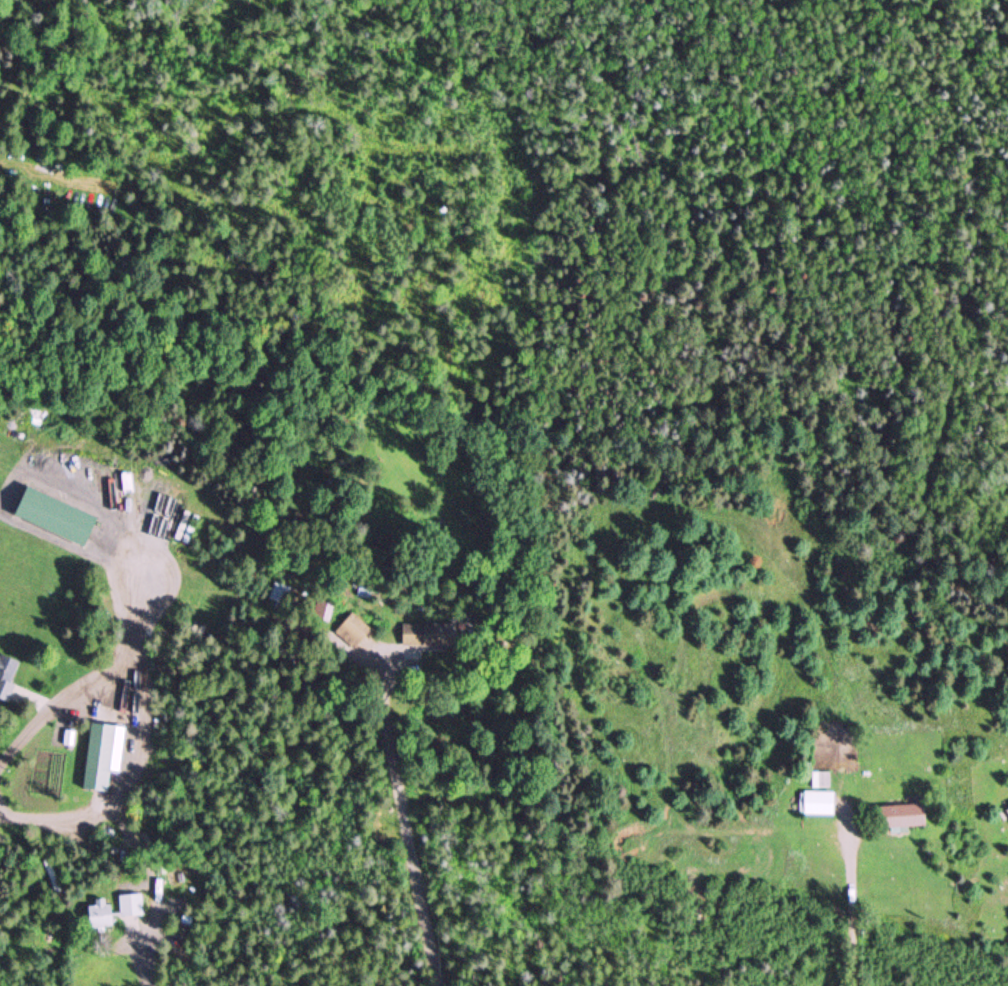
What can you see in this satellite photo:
building: (354, 632)
building: (8, 676)
building: (102, 758)
building: (821, 804)
building: (902, 816)
building: (115, 910)

